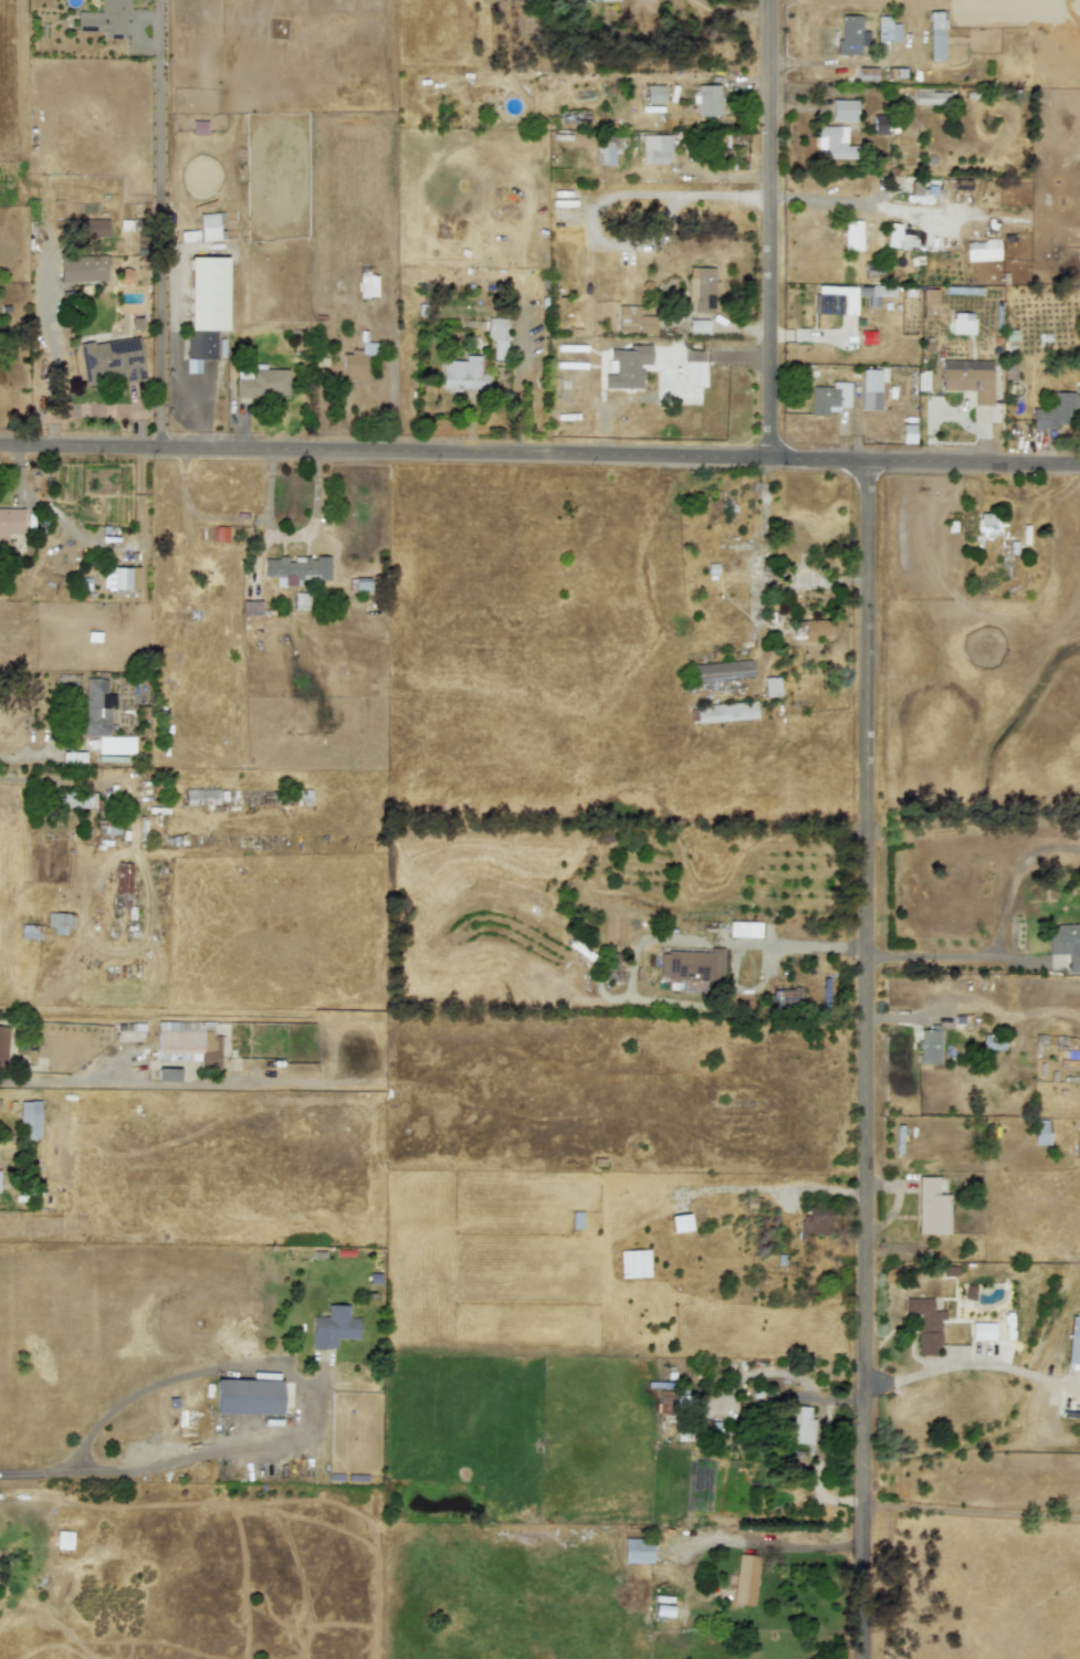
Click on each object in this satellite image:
road: (734, 12)
building: (105, 19)
building: (887, 29)
building: (850, 34)
building: (935, 34)
building: (867, 73)
building: (654, 94)
building: (931, 96)
building: (709, 101)
building: (842, 111)
building: (878, 125)
building: (833, 143)
building: (654, 148)
building: (606, 149)
road: (611, 198)
road: (854, 203)
building: (210, 225)
building: (84, 228)
road: (769, 231)
building: (892, 234)
building: (189, 235)
building: (851, 235)
building: (982, 250)
road: (159, 262)
building: (83, 269)
building: (366, 284)
building: (700, 288)
building: (930, 301)
building: (828, 304)
building: (205, 307)
building: (633, 321)
building: (962, 323)
building: (698, 326)
building: (496, 336)
building: (112, 359)
building: (355, 363)
building: (628, 367)
building: (463, 375)
building: (968, 378)
building: (261, 382)
building: (870, 389)
building: (828, 398)
building: (1053, 412)
building: (906, 433)
road: (539, 456)
road: (312, 517)
building: (10, 522)
road: (231, 522)
building: (987, 524)
building: (298, 568)
building: (120, 578)
building: (251, 608)
building: (814, 628)
building: (772, 686)
building: (101, 720)
road: (23, 754)
road: (19, 778)
building: (201, 796)
building: (75, 799)
building: (123, 884)
building: (61, 922)
building: (30, 932)
building: (1065, 943)
road: (800, 945)
road: (950, 955)
building: (692, 968)
building: (188, 1042)
building: (2, 1043)
road: (868, 1061)
building: (168, 1074)
road: (73, 1080)
building: (29, 1120)
building: (1040, 1134)
building: (933, 1201)
building: (814, 1221)
building: (925, 1325)
building: (333, 1326)
building: (1073, 1341)
road: (942, 1366)
road: (1026, 1373)
road: (1050, 1380)
road: (305, 1386)
building: (248, 1397)
building: (799, 1425)
road: (31, 1474)
building: (63, 1540)
road: (808, 1546)
building: (636, 1551)
building: (743, 1581)

